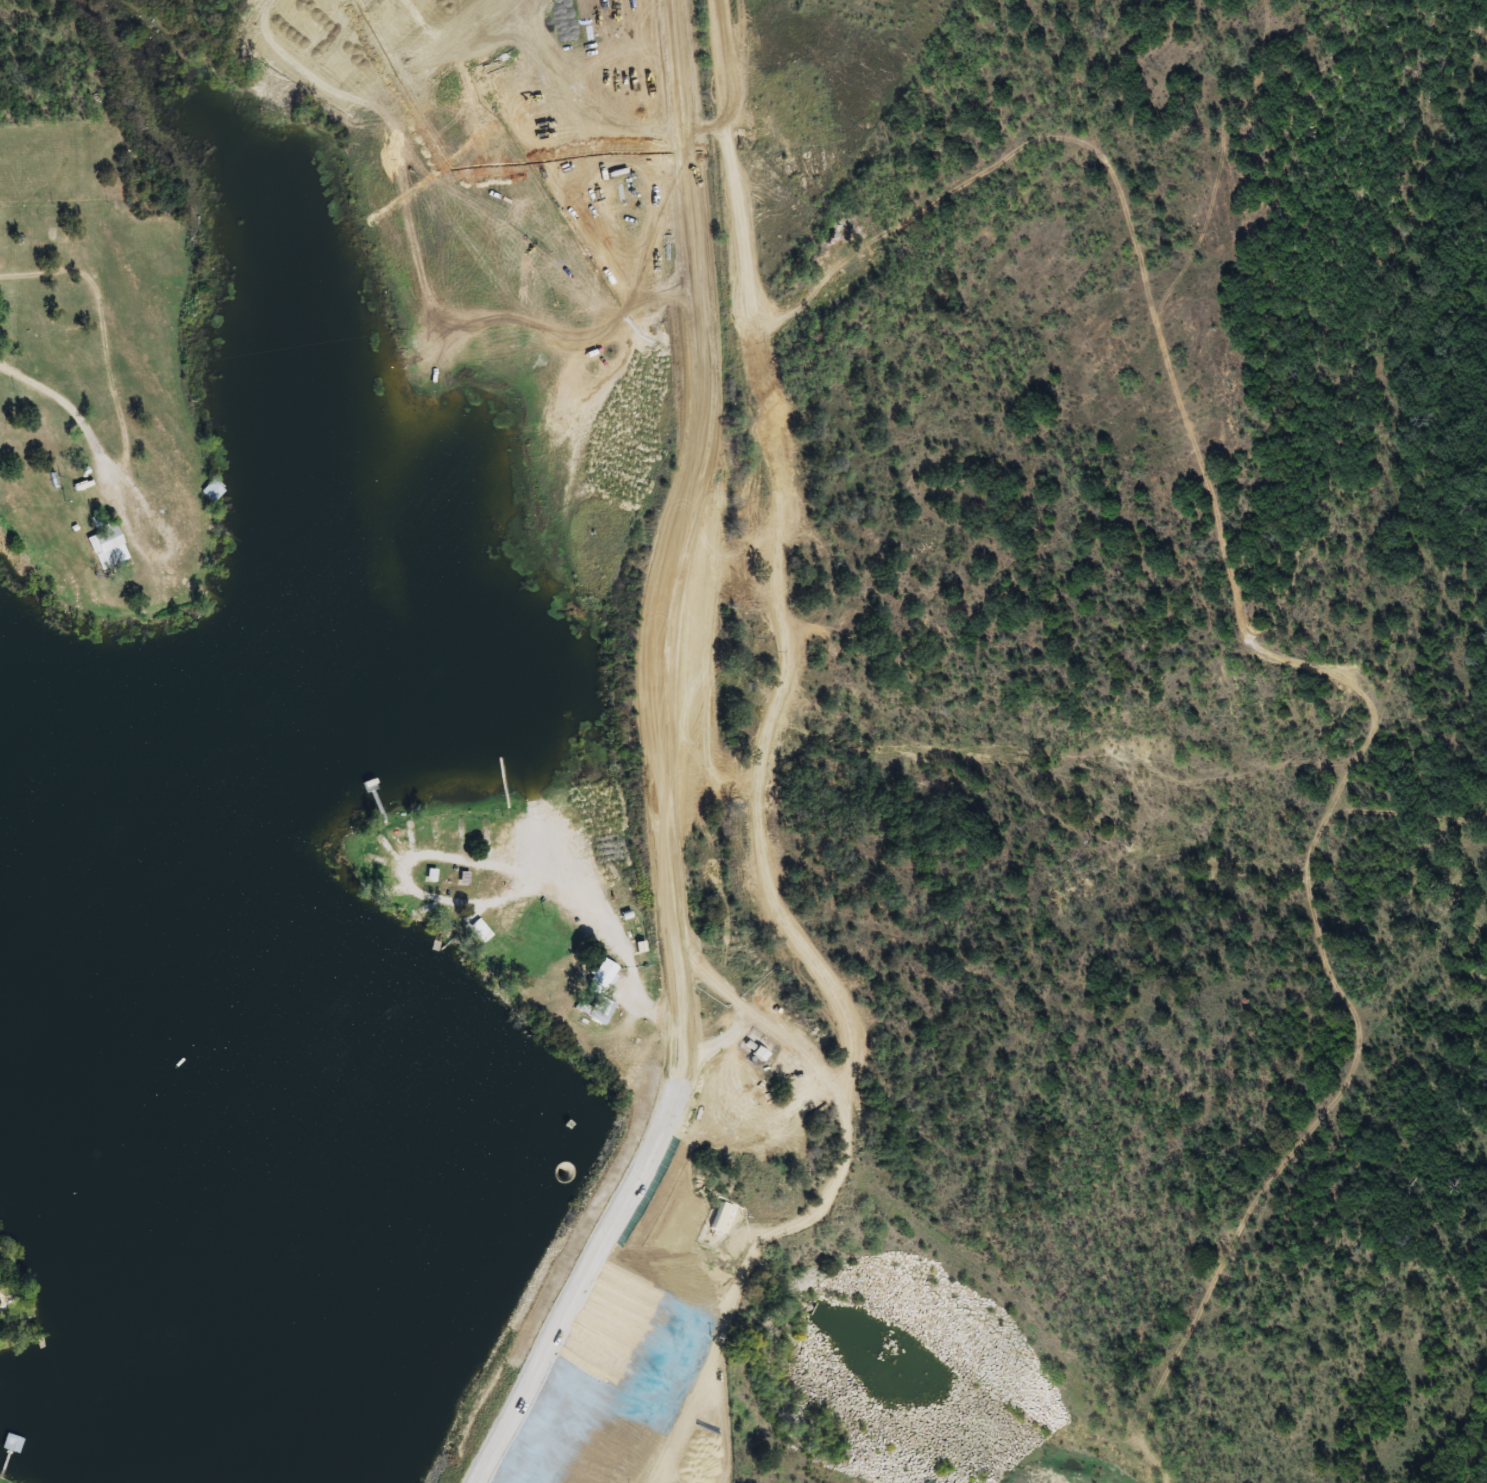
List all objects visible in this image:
road: (117, 497)
building: (266, 529)
building: (112, 550)
building: (360, 763)
road: (655, 763)
building: (380, 920)
building: (485, 931)
building: (605, 973)
building: (596, 1007)
river: (281, 1036)
building: (749, 1050)
road: (819, 1216)
river: (689, 1239)
river: (923, 1379)
building: (14, 1445)
river: (1477, 1459)
river: (1082, 1462)

